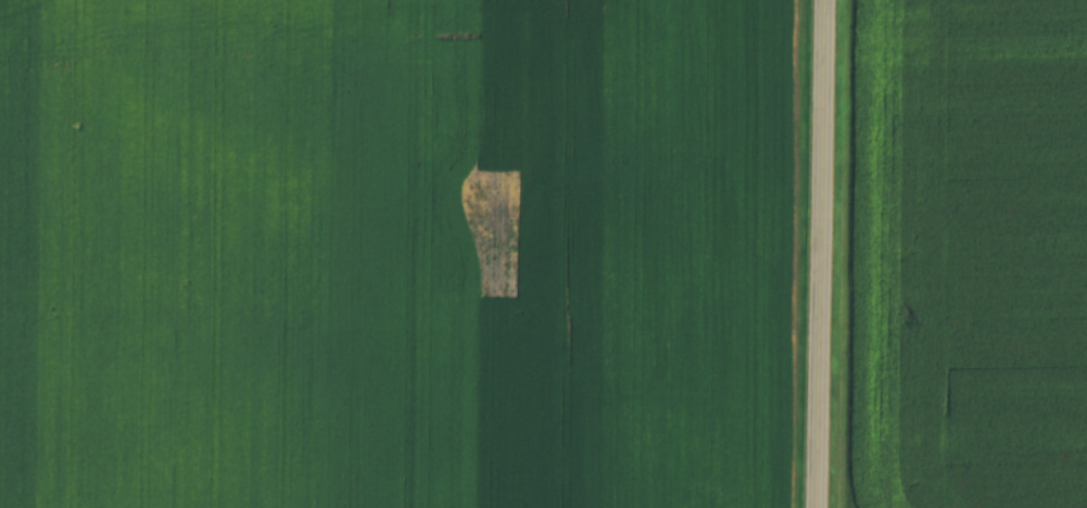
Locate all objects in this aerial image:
road: (829, 254)

